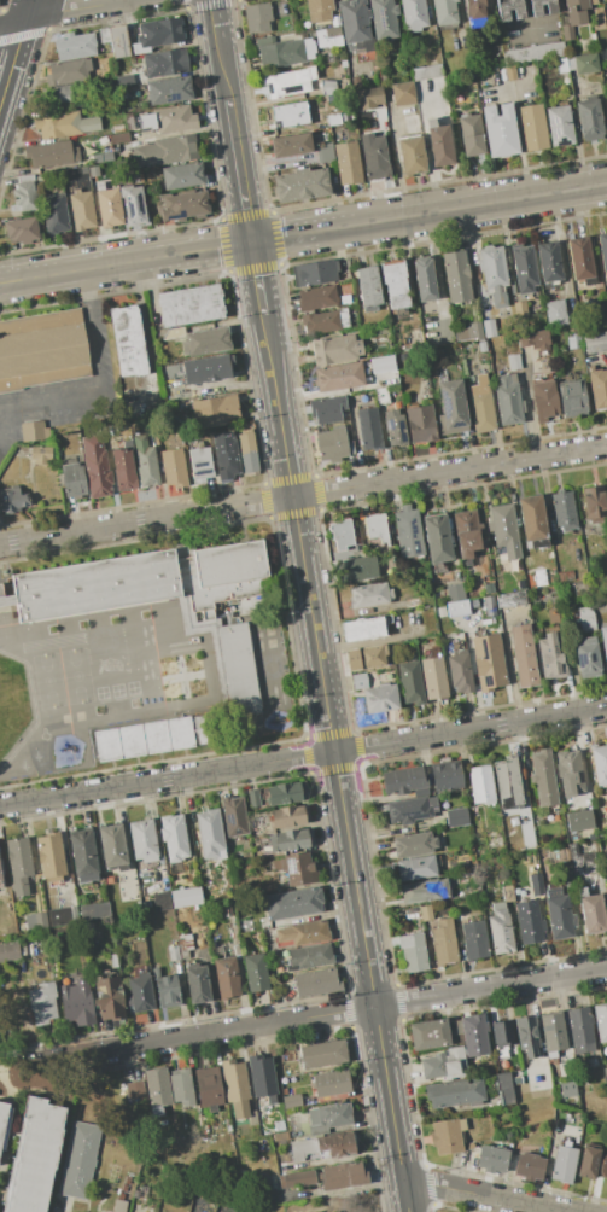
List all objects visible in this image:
building: (593, 1)
building: (580, 4)
road: (94, 5)
building: (509, 8)
building: (550, 8)
road: (28, 10)
building: (319, 10)
building: (444, 11)
building: (475, 13)
building: (414, 14)
building: (573, 16)
building: (257, 17)
road: (30, 18)
building: (384, 18)
building: (354, 19)
building: (597, 19)
building: (334, 21)
building: (567, 31)
building: (158, 34)
building: (104, 35)
building: (328, 37)
building: (118, 41)
building: (367, 45)
building: (74, 47)
building: (285, 52)
building: (533, 53)
road: (12, 62)
building: (165, 63)
building: (586, 63)
building: (561, 65)
building: (69, 71)
building: (425, 71)
building: (510, 72)
building: (124, 80)
building: (356, 81)
building: (287, 82)
road: (506, 88)
building: (169, 89)
road: (227, 89)
building: (403, 93)
building: (66, 95)
building: (369, 97)
building: (290, 113)
building: (173, 118)
building: (333, 118)
building: (589, 118)
building: (146, 122)
building: (64, 124)
building: (410, 124)
building: (560, 126)
building: (533, 127)
building: (117, 128)
building: (500, 129)
building: (472, 134)
building: (118, 138)
building: (439, 142)
road: (519, 142)
building: (291, 145)
building: (165, 151)
building: (323, 152)
building: (51, 153)
building: (410, 153)
building: (104, 156)
building: (374, 156)
road: (427, 157)
building: (348, 162)
building: (93, 170)
building: (182, 175)
building: (300, 183)
building: (24, 196)
building: (132, 205)
building: (183, 205)
building: (109, 208)
building: (81, 210)
road: (246, 210)
building: (54, 212)
building: (22, 229)
road: (303, 233)
building: (602, 254)
building: (580, 260)
building: (549, 262)
building: (524, 268)
road: (256, 273)
building: (314, 273)
building: (494, 274)
building: (455, 275)
building: (422, 278)
building: (395, 282)
building: (368, 289)
building: (316, 297)
building: (189, 305)
building: (519, 309)
building: (555, 313)
building: (323, 321)
building: (488, 327)
road: (264, 332)
building: (468, 332)
building: (205, 340)
building: (535, 340)
building: (126, 342)
building: (574, 342)
building: (594, 342)
building: (42, 349)
building: (335, 349)
building: (513, 361)
building: (389, 362)
building: (206, 368)
road: (97, 375)
building: (337, 377)
building: (597, 388)
building: (572, 398)
building: (543, 400)
building: (507, 401)
road: (2, 403)
building: (451, 407)
road: (2, 409)
building: (326, 409)
building: (214, 410)
building: (481, 410)
building: (420, 424)
road: (281, 427)
building: (393, 427)
building: (369, 429)
building: (34, 431)
building: (332, 443)
building: (224, 454)
building: (247, 454)
building: (146, 461)
building: (200, 464)
building: (97, 466)
building: (123, 466)
building: (174, 467)
building: (74, 479)
road: (303, 494)
building: (12, 500)
building: (594, 503)
building: (564, 517)
building: (532, 518)
road: (296, 526)
building: (377, 528)
building: (503, 529)
building: (408, 532)
building: (466, 532)
building: (342, 534)
building: (436, 538)
building: (356, 569)
building: (94, 585)
building: (455, 593)
building: (369, 595)
building: (510, 599)
road: (310, 602)
building: (457, 608)
building: (586, 619)
building: (362, 628)
building: (215, 629)
building: (603, 642)
building: (524, 655)
building: (551, 655)
building: (367, 657)
building: (586, 657)
building: (489, 662)
building: (459, 672)
building: (433, 677)
building: (410, 682)
building: (380, 698)
road: (327, 700)
building: (158, 736)
road: (303, 756)
building: (599, 764)
building: (568, 773)
building: (445, 775)
building: (543, 777)
building: (402, 780)
building: (507, 781)
building: (480, 783)
building: (286, 793)
building: (252, 798)
road: (343, 800)
building: (412, 809)
building: (288, 816)
building: (234, 817)
building: (456, 817)
building: (579, 821)
building: (210, 834)
building: (174, 837)
building: (291, 839)
building: (144, 840)
building: (413, 844)
building: (112, 847)
building: (83, 855)
building: (51, 857)
building: (18, 864)
building: (274, 864)
building: (416, 868)
building: (298, 869)
building: (0, 881)
building: (606, 882)
building: (536, 884)
building: (424, 890)
building: (507, 892)
building: (186, 897)
building: (162, 901)
building: (292, 903)
building: (146, 904)
building: (94, 910)
building: (591, 911)
building: (425, 913)
building: (559, 914)
building: (59, 916)
building: (35, 921)
building: (529, 921)
road: (363, 926)
building: (500, 930)
building: (302, 933)
building: (474, 939)
building: (185, 940)
building: (443, 942)
building: (8, 951)
building: (174, 952)
building: (413, 952)
building: (70, 955)
building: (309, 956)
building: (113, 960)
building: (256, 972)
building: (227, 978)
building: (315, 981)
building: (197, 984)
building: (168, 990)
building: (140, 992)
building: (109, 997)
building: (77, 1002)
building: (41, 1003)
road: (335, 1012)
building: (601, 1021)
building: (580, 1030)
building: (502, 1032)
building: (553, 1032)
building: (428, 1033)
building: (474, 1033)
building: (527, 1035)
building: (322, 1053)
building: (444, 1064)
building: (262, 1076)
building: (331, 1083)
building: (209, 1085)
building: (181, 1086)
building: (235, 1088)
building: (504, 1088)
building: (536, 1088)
building: (567, 1088)
building: (134, 1089)
building: (157, 1089)
building: (454, 1091)
building: (291, 1100)
road: (392, 1108)
building: (329, 1115)
building: (252, 1118)
building: (4, 1123)
building: (280, 1136)
building: (448, 1136)
building: (337, 1144)
building: (303, 1148)
building: (35, 1156)
building: (491, 1158)
building: (78, 1160)
building: (591, 1163)
building: (564, 1164)
building: (529, 1166)
building: (342, 1176)
building: (298, 1178)
road: (486, 1194)
building: (119, 1206)

